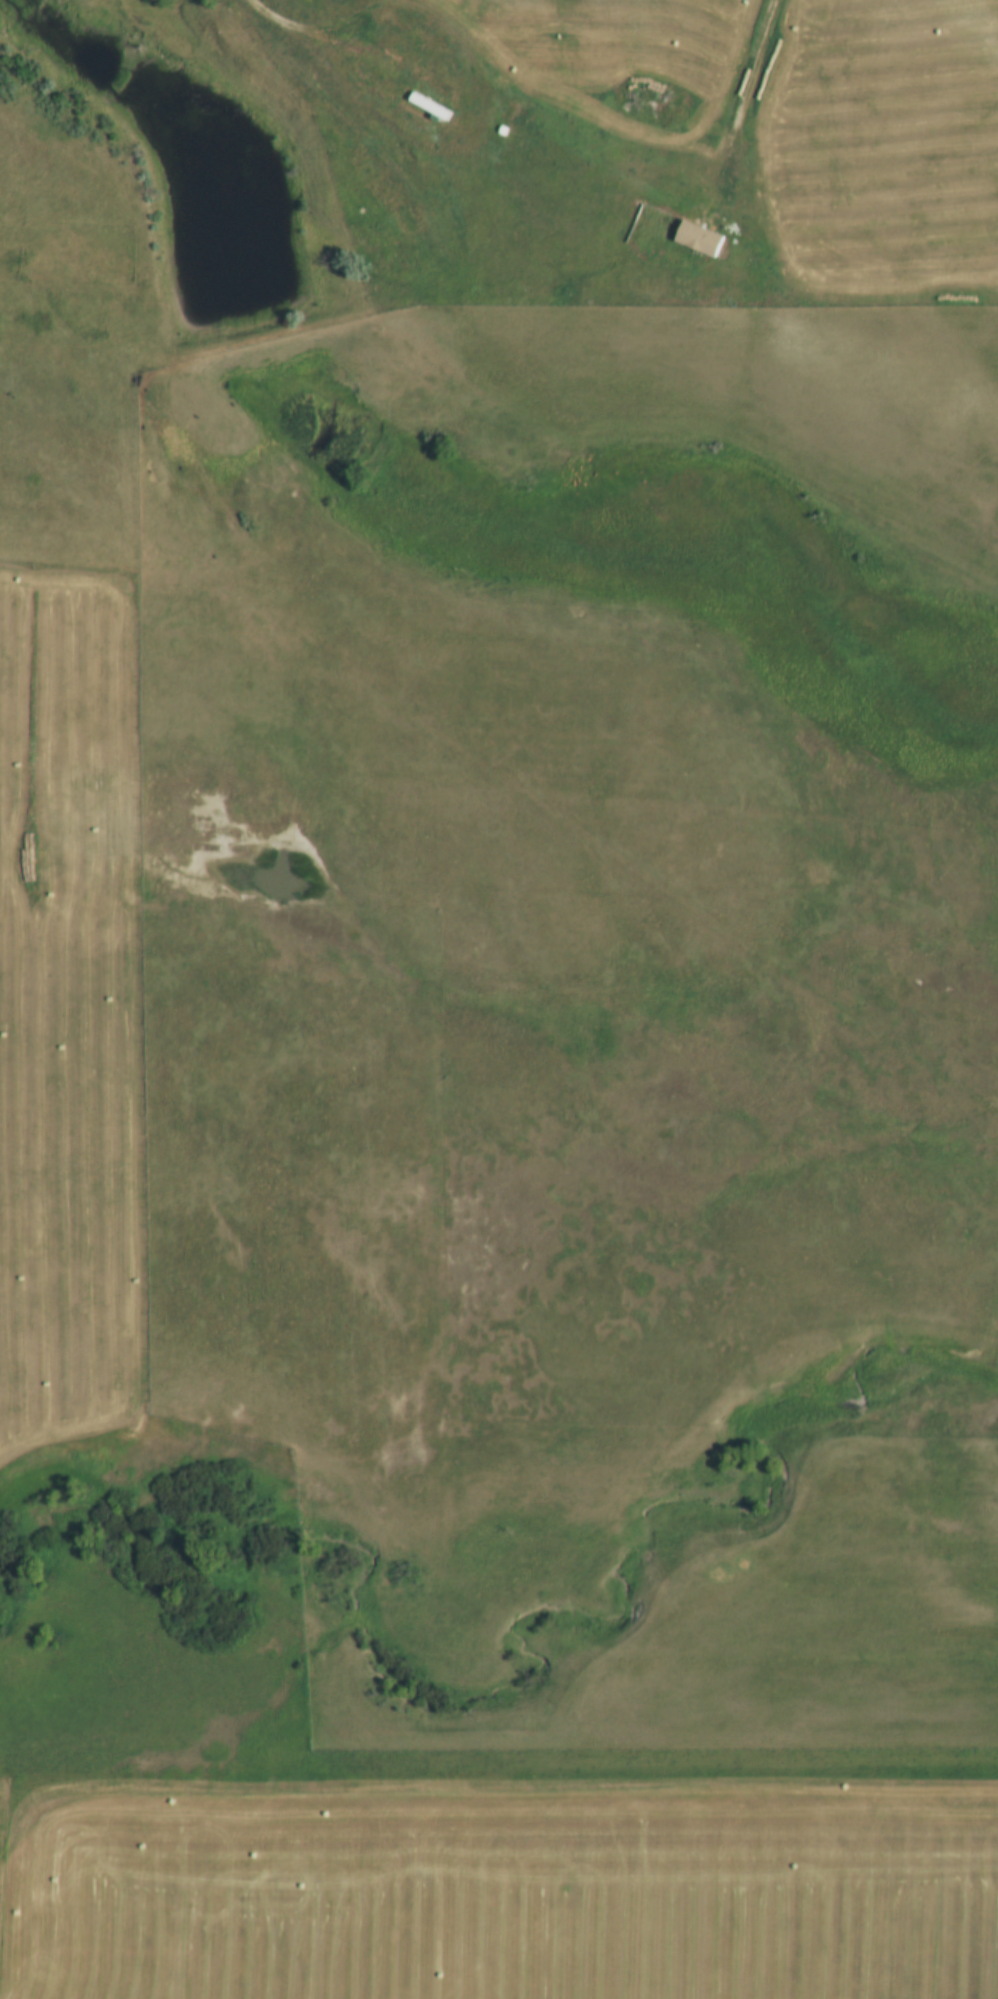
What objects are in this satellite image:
building: (402, 25)
building: (413, 53)
building: (360, 82)
building: (431, 85)
building: (427, 105)
building: (402, 113)
road: (880, 1210)

